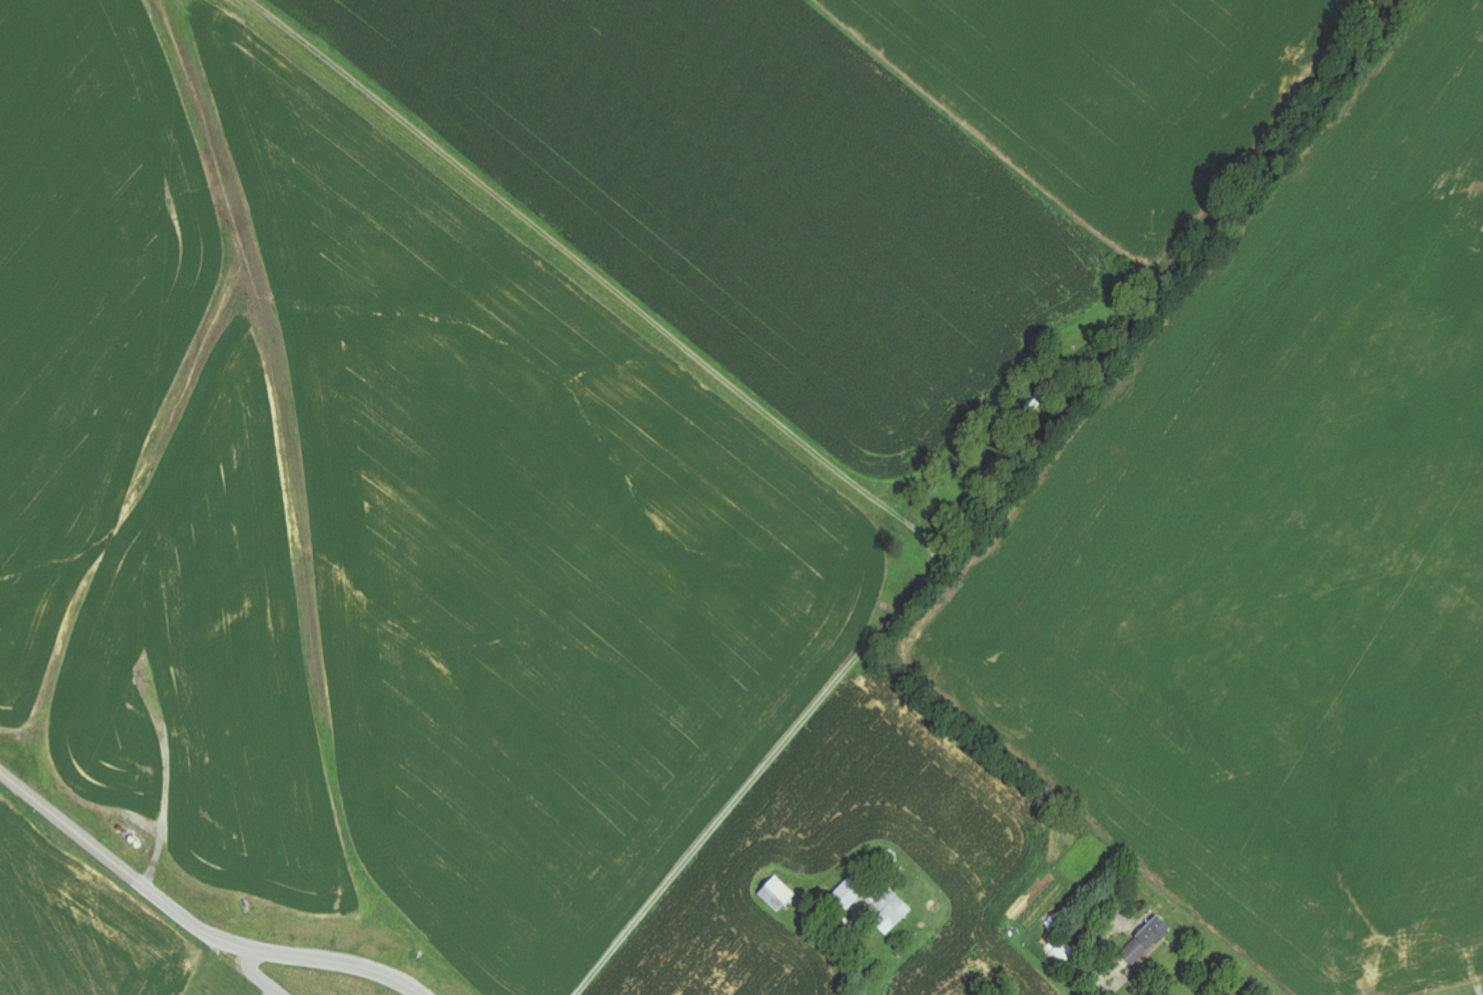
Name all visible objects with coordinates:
road: (788, 434)
building: (779, 895)
building: (849, 896)
building: (893, 912)
road: (196, 922)
building: (1148, 942)

